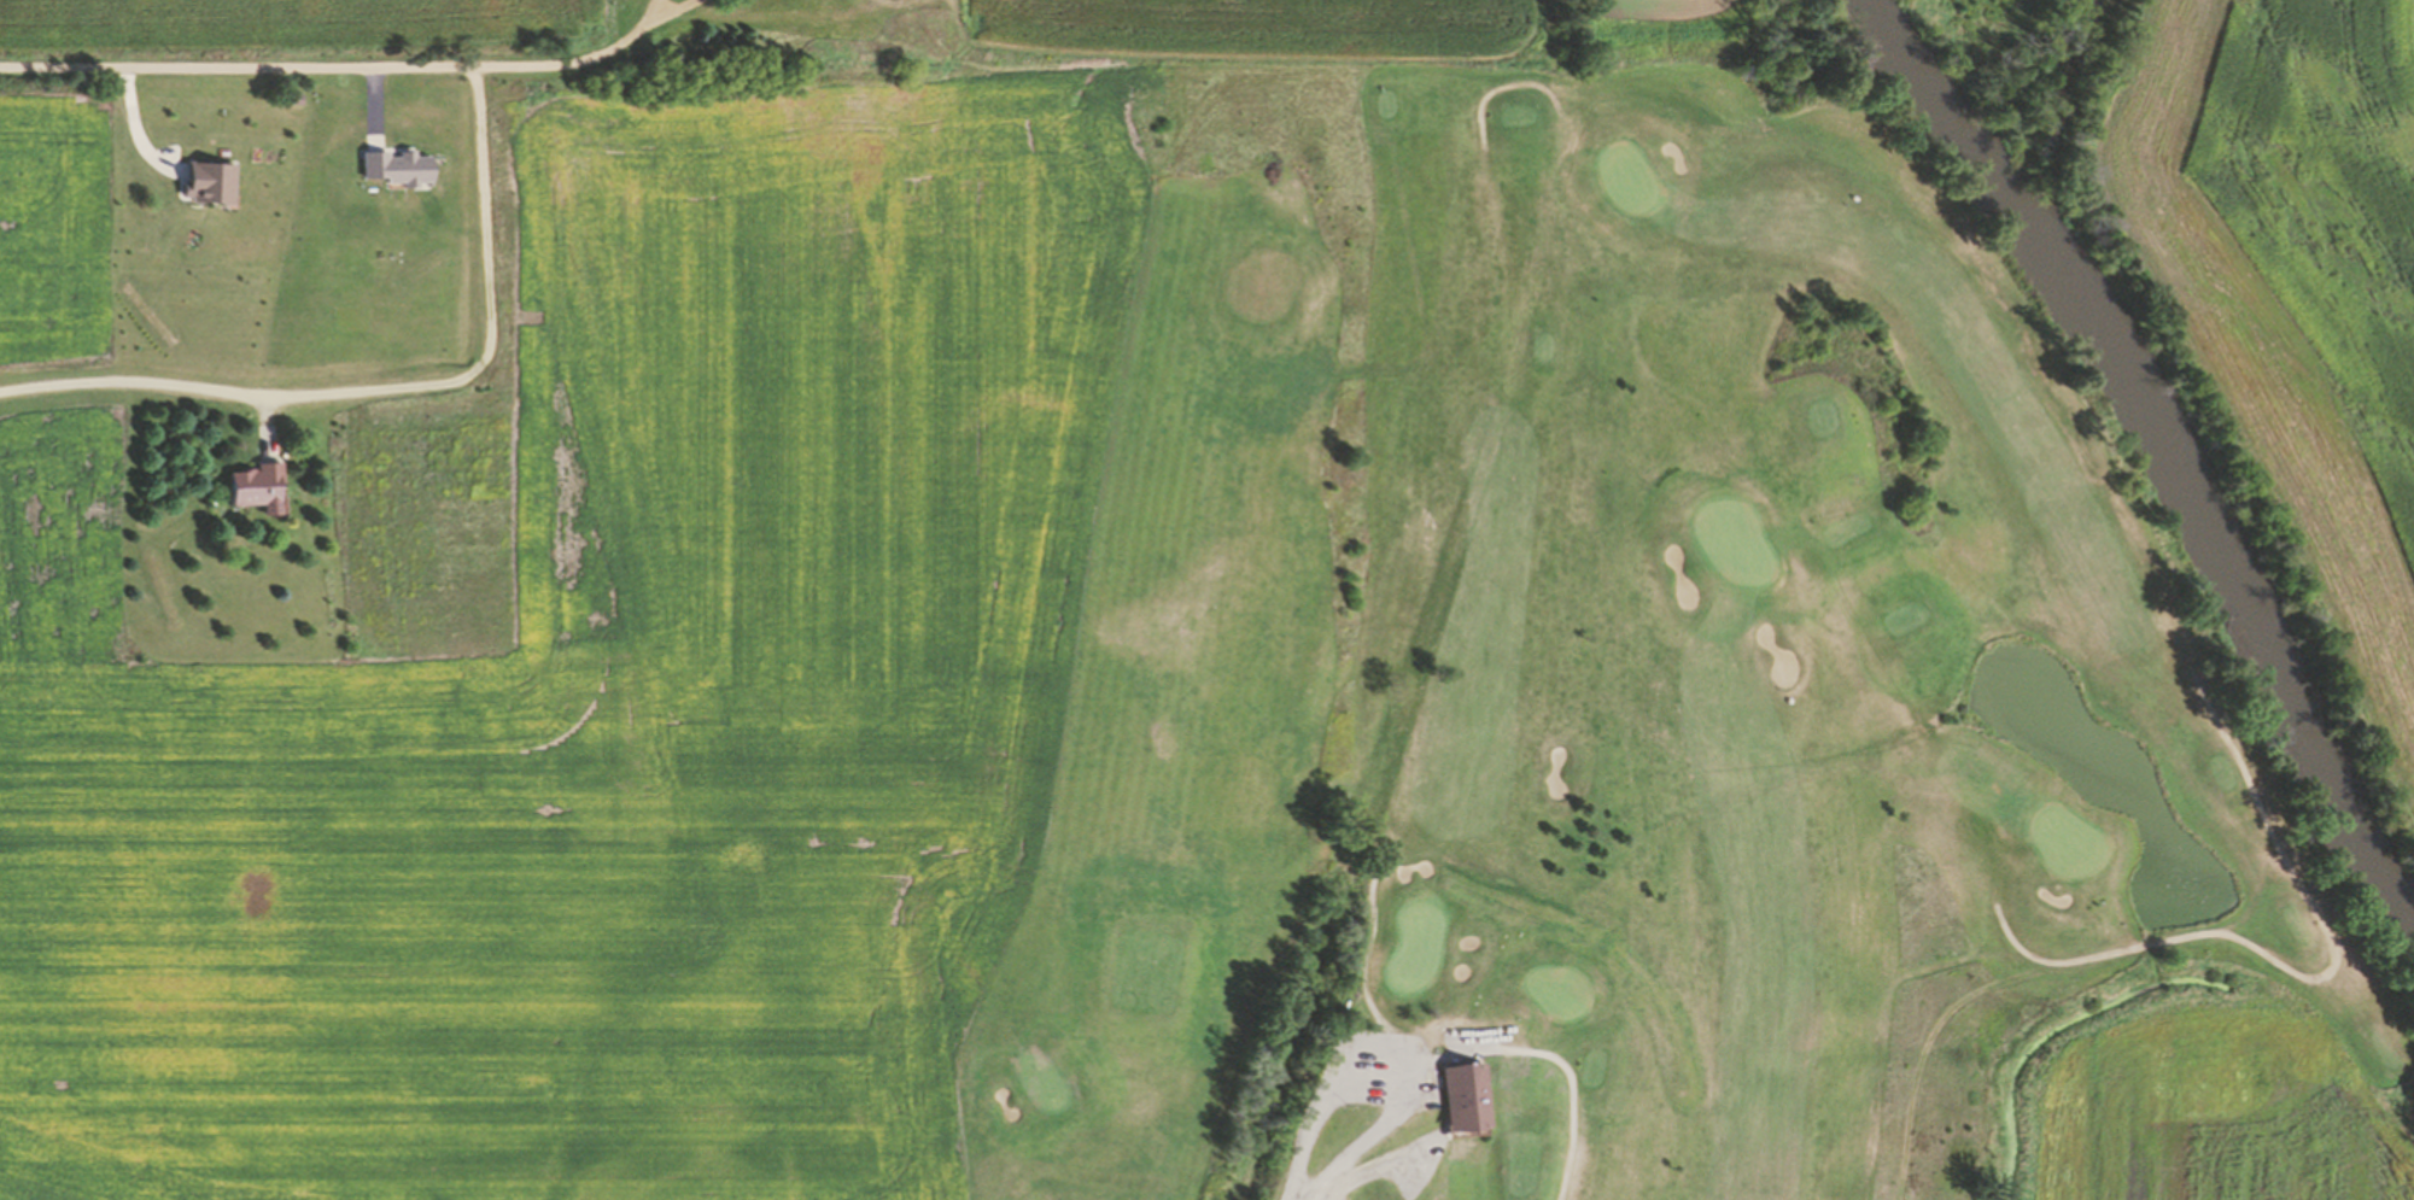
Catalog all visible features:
road: (357, 68)
road: (1510, 87)
park: (1630, 181)
road: (392, 387)
river: (2156, 459)
building: (263, 488)
park: (1734, 542)
park: (1580, 689)
park: (2064, 841)
road: (1364, 941)
road: (2307, 978)
building: (1459, 1096)
building: (1374, 1110)

